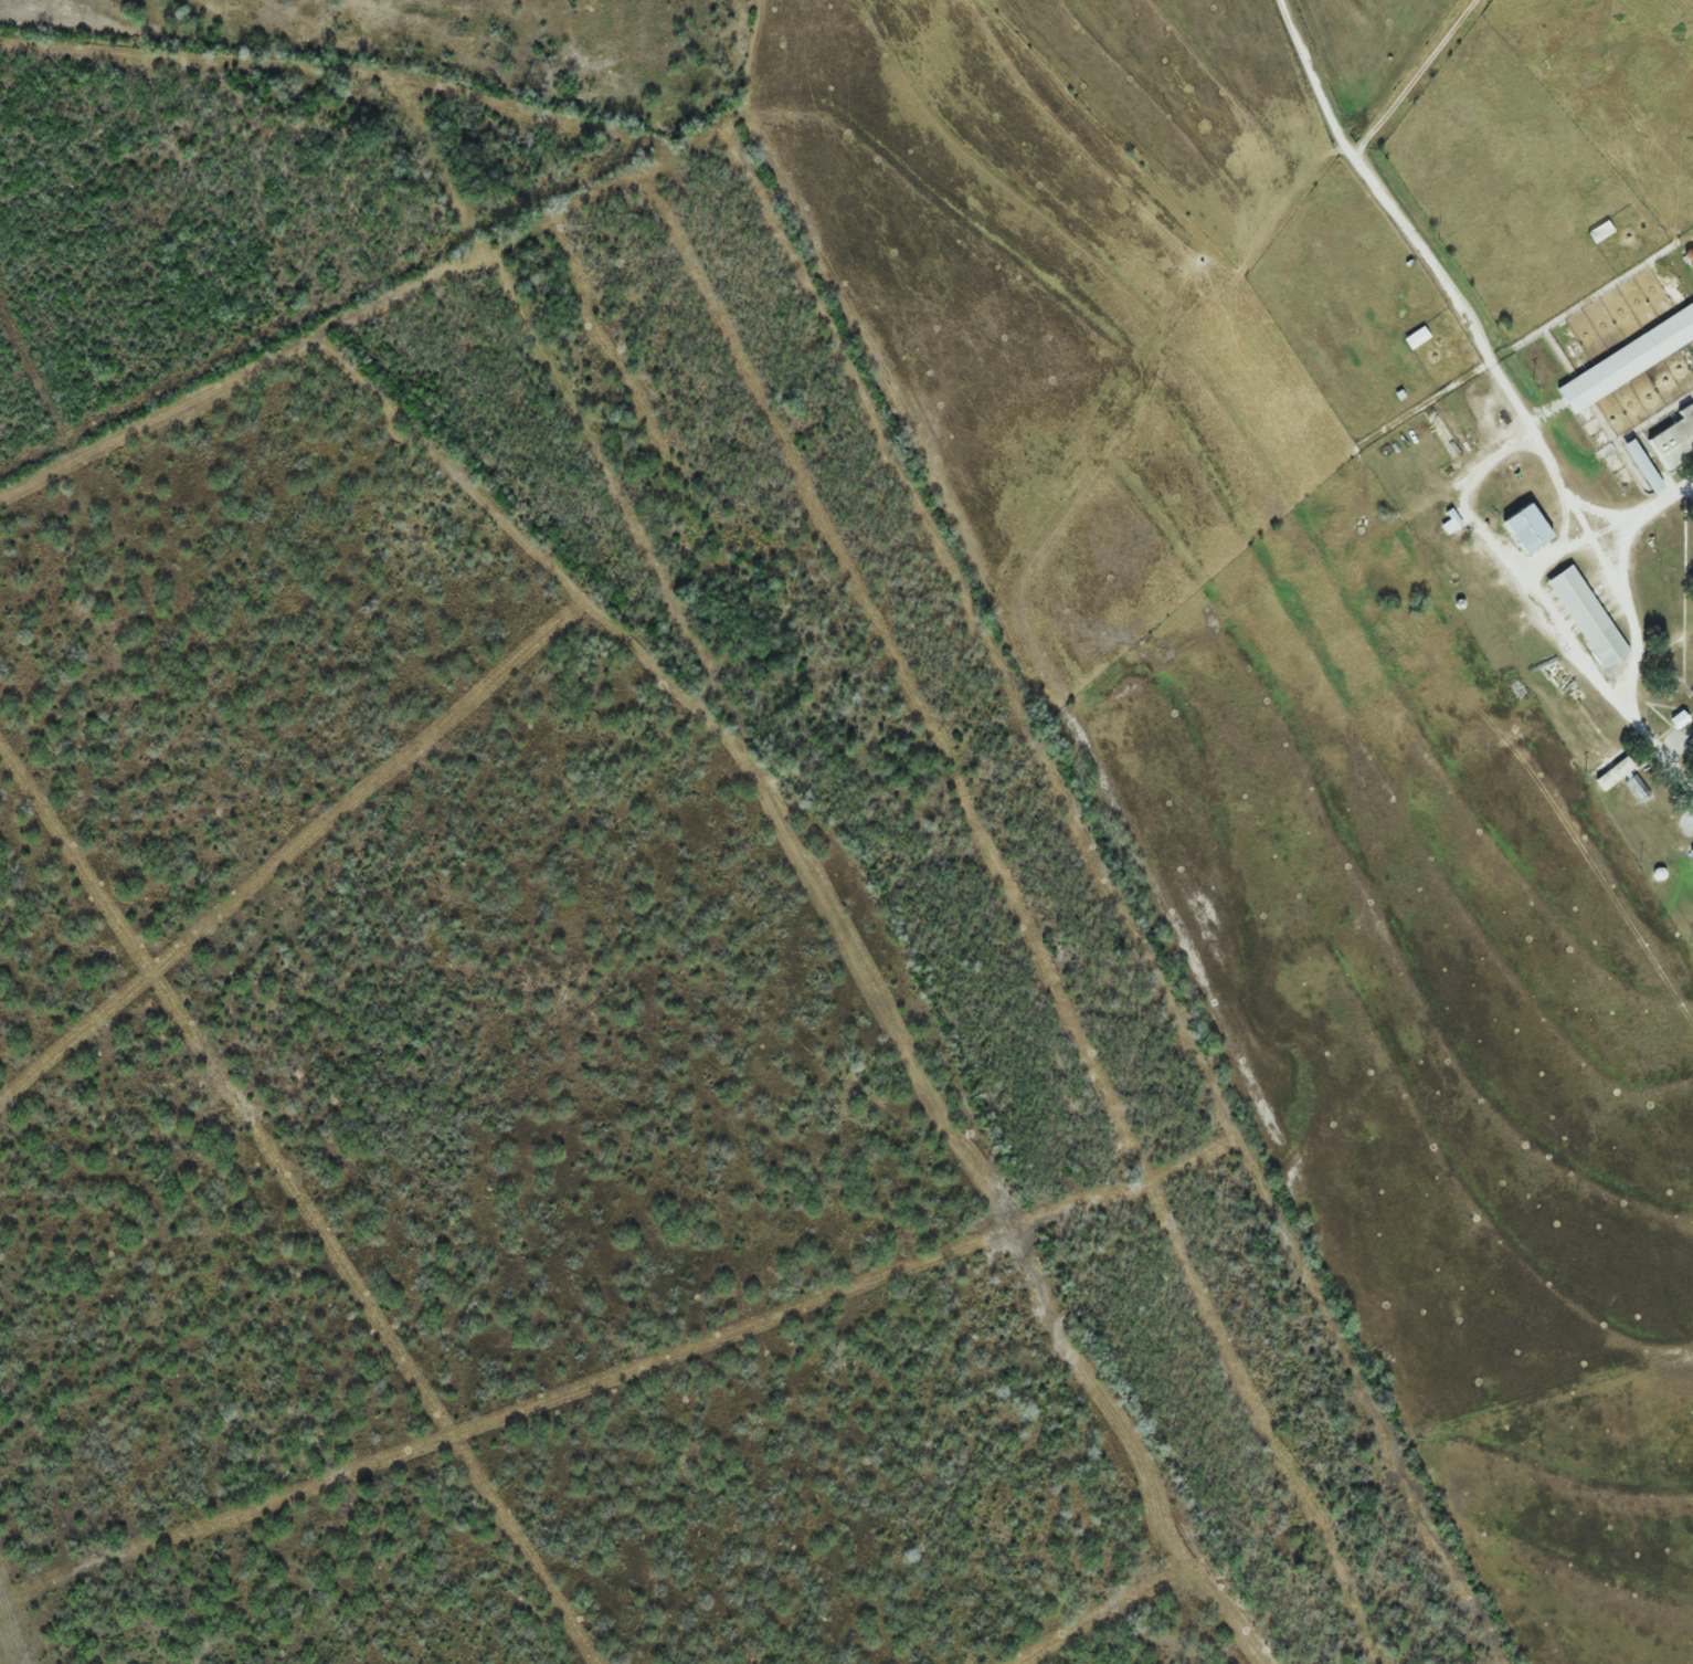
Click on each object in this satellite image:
road: (1410, 78)
road: (1371, 189)
building: (1629, 359)
building: (1675, 440)
building: (1451, 524)
building: (1530, 528)
road: (1611, 572)
building: (1588, 617)
building: (1692, 693)
building: (1680, 719)
building: (1616, 772)
building: (1638, 788)

